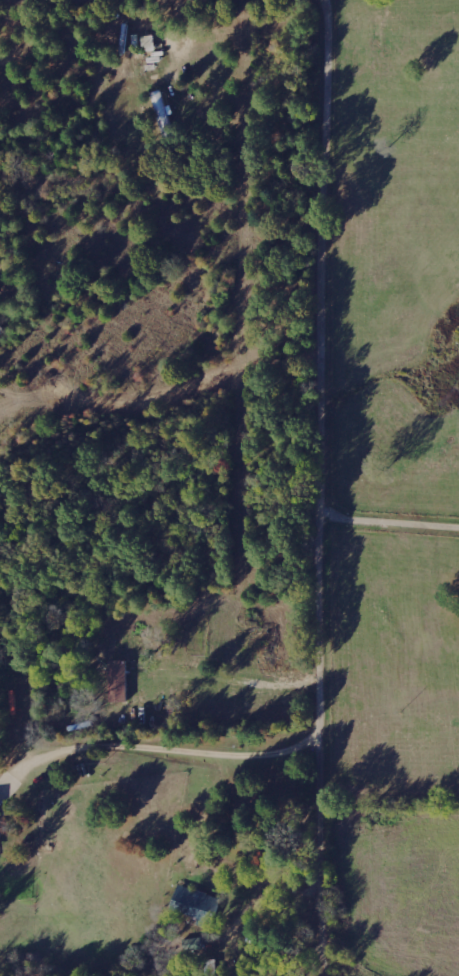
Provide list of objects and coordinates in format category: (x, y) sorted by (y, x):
road: (48, 0)
road: (329, 487)
road: (177, 750)
building: (197, 904)

